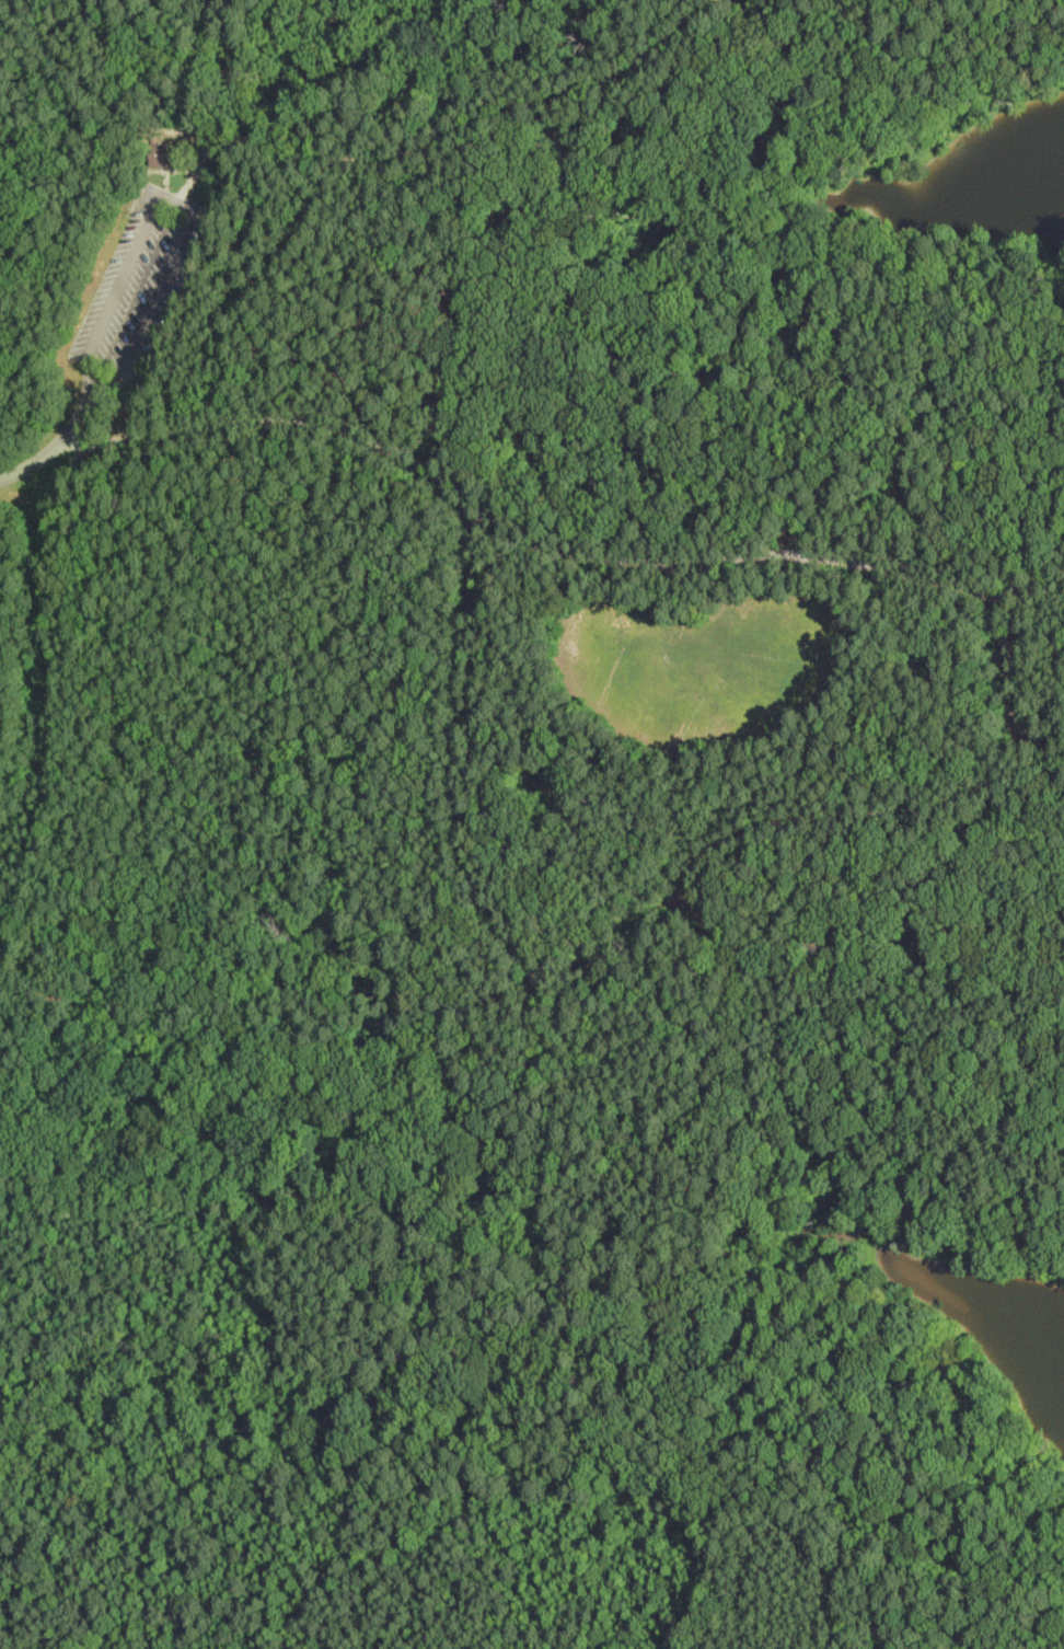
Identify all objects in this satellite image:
building: (752, 0)
road: (193, 103)
building: (169, 152)
road: (368, 153)
road: (176, 199)
parking lot: (143, 282)
road: (58, 445)
road: (547, 542)
road: (1009, 673)
park: (557, 739)
building: (707, 910)
road: (578, 955)
road: (14, 992)
road: (441, 1022)

